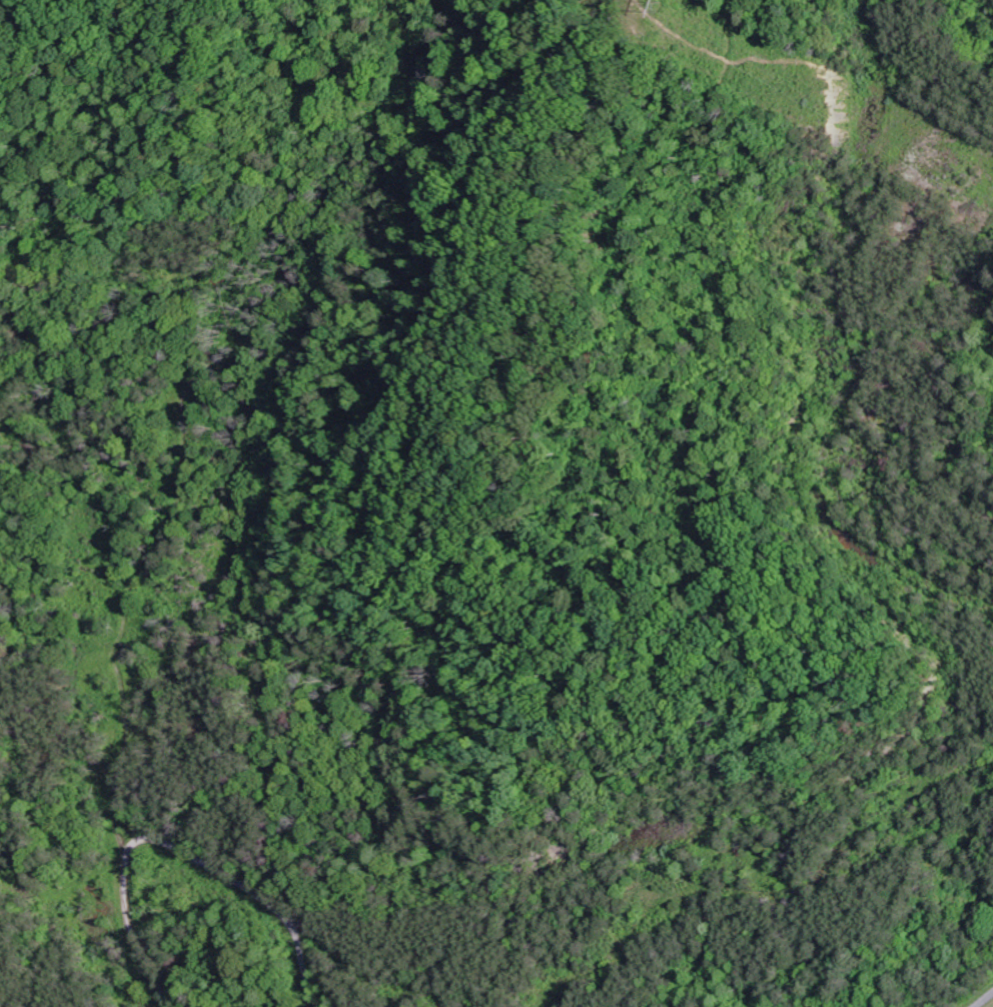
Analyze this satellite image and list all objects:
power tower: (669, 4)
road: (983, 999)

